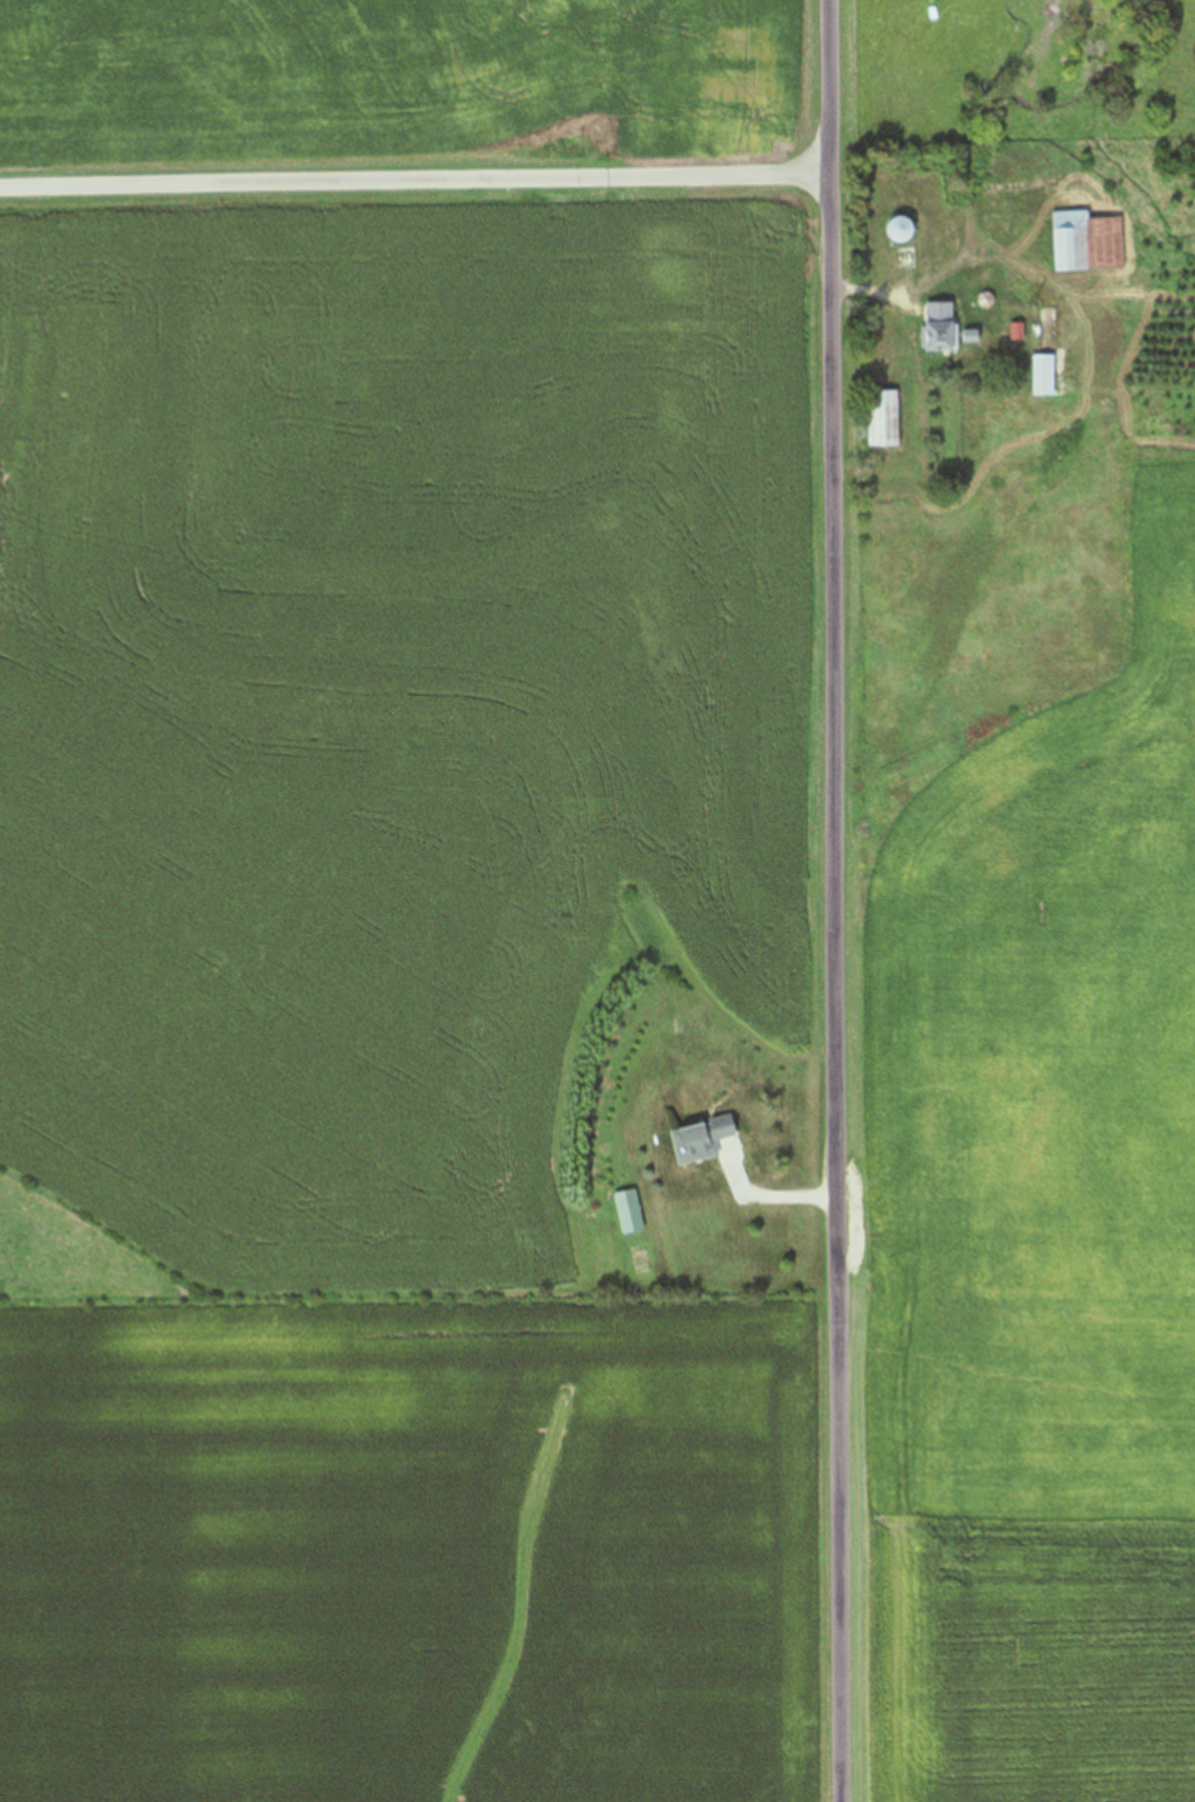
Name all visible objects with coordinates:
road: (412, 183)
building: (900, 229)
building: (1087, 243)
building: (905, 258)
building: (941, 336)
building: (1043, 375)
building: (883, 418)
road: (831, 900)
building: (701, 1140)
building: (631, 1219)

